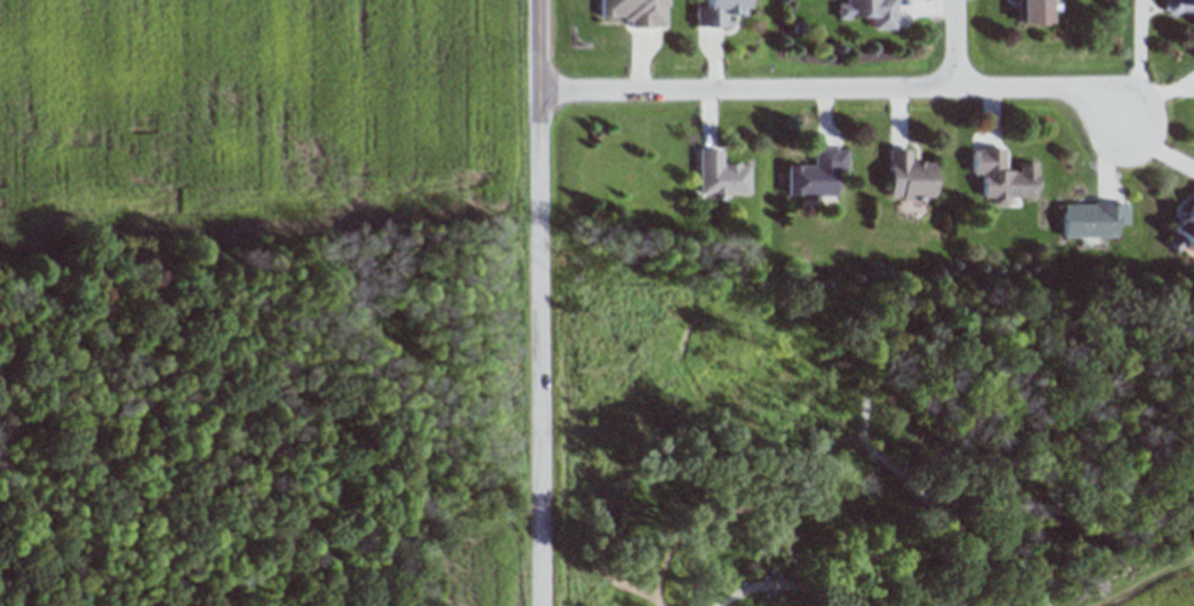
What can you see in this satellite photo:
building: (1179, 7)
building: (1033, 11)
building: (637, 12)
building: (719, 12)
building: (871, 12)
road: (958, 44)
road: (833, 88)
building: (817, 173)
building: (722, 175)
building: (911, 177)
building: (1003, 177)
building: (1092, 219)
building: (1183, 231)
road: (543, 302)

